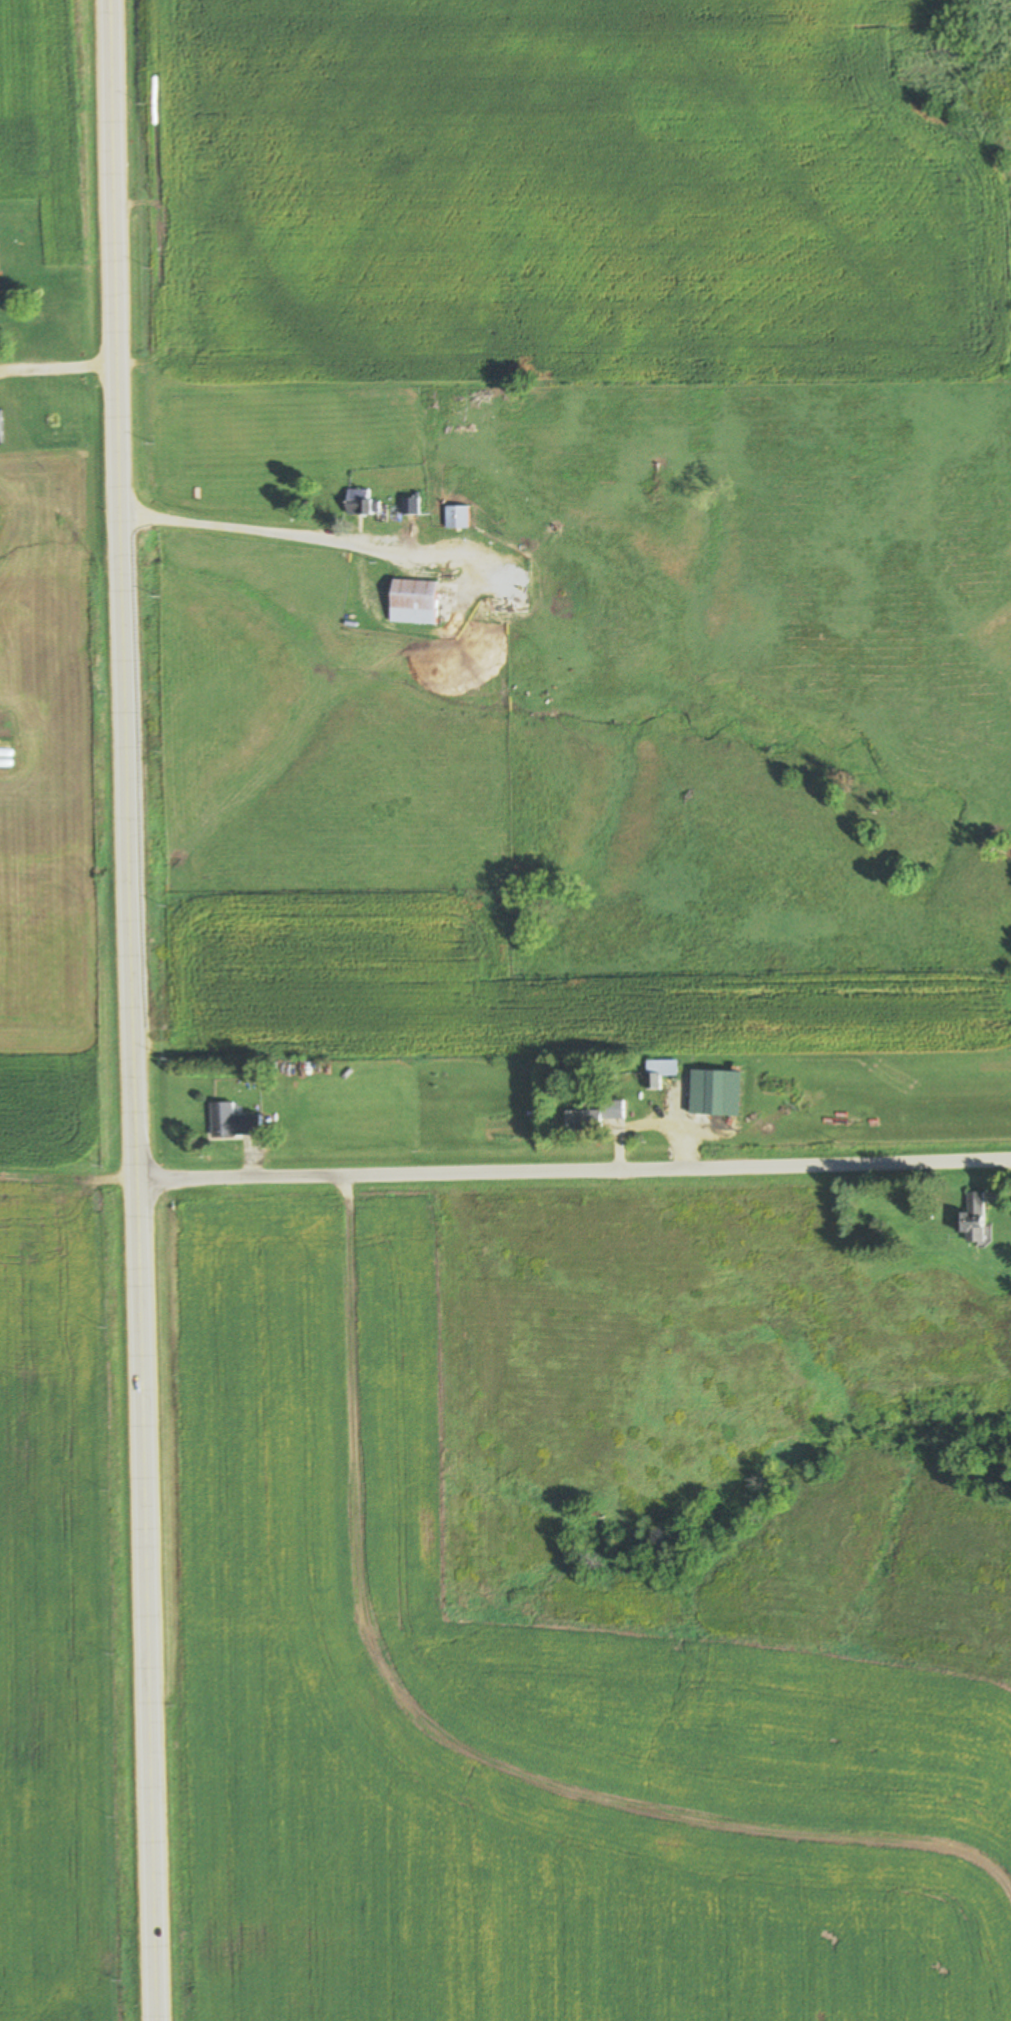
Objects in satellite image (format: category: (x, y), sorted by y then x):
building: (37, 335)
road: (56, 367)
building: (361, 503)
building: (416, 508)
building: (458, 517)
road: (266, 528)
building: (414, 602)
road: (128, 1010)
building: (660, 1072)
building: (596, 1117)
building: (234, 1121)
road: (572, 1174)
building: (975, 1219)

